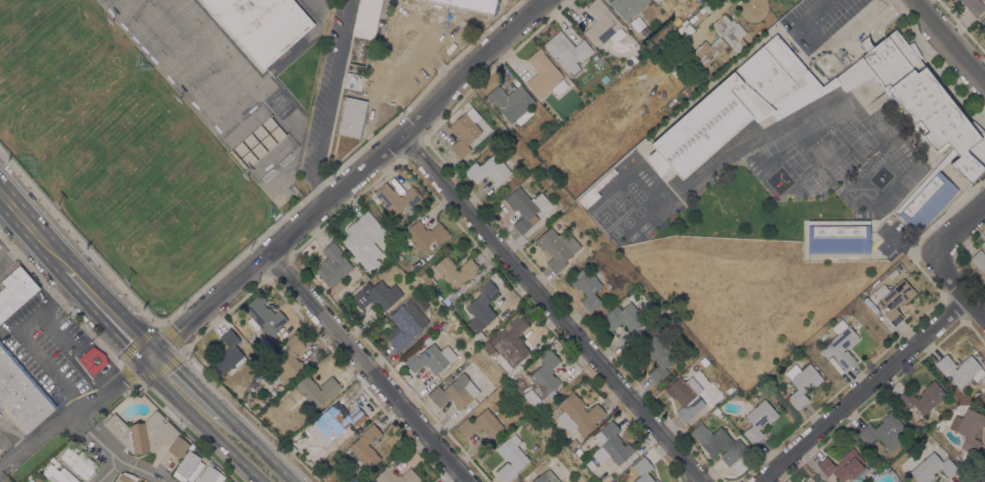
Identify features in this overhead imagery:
building: (656, 1)
building: (974, 6)
building: (628, 7)
building: (701, 12)
building: (366, 18)
building: (983, 21)
building: (601, 23)
building: (263, 25)
building: (408, 27)
building: (683, 30)
building: (646, 31)
building: (730, 34)
road: (949, 41)
road: (832, 45)
building: (657, 49)
building: (567, 51)
building: (704, 54)
building: (595, 57)
building: (625, 65)
building: (391, 66)
building: (544, 75)
road: (329, 101)
building: (512, 103)
building: (352, 117)
building: (703, 128)
building: (503, 129)
building: (465, 131)
building: (489, 170)
building: (551, 178)
road: (347, 180)
building: (399, 183)
building: (395, 197)
building: (524, 208)
road: (5, 209)
building: (557, 213)
road: (955, 224)
road: (37, 232)
building: (423, 234)
building: (838, 236)
building: (363, 237)
building: (983, 243)
road: (18, 247)
building: (557, 247)
building: (979, 260)
building: (334, 267)
building: (455, 271)
road: (948, 273)
building: (586, 287)
building: (15, 291)
building: (376, 295)
building: (893, 301)
road: (550, 306)
road: (976, 306)
building: (482, 307)
road: (111, 316)
building: (264, 316)
building: (623, 318)
building: (405, 325)
road: (25, 337)
building: (511, 340)
building: (841, 344)
building: (228, 353)
building: (657, 356)
traffic signals: (149, 358)
building: (430, 358)
building: (289, 359)
building: (92, 360)
building: (692, 365)
road: (367, 367)
building: (960, 369)
road: (189, 382)
building: (543, 382)
building: (802, 382)
road: (112, 386)
road: (863, 387)
building: (317, 390)
building: (21, 393)
building: (454, 393)
building: (682, 397)
building: (923, 397)
building: (718, 413)
building: (578, 414)
building: (265, 415)
building: (759, 420)
road: (202, 422)
building: (335, 422)
building: (919, 422)
building: (481, 425)
building: (968, 428)
building: (884, 431)
building: (142, 432)
road: (35, 436)
building: (573, 443)
building: (611, 444)
building: (721, 445)
building: (178, 446)
road: (260, 447)
building: (534, 447)
building: (365, 449)
building: (578, 450)
road: (112, 453)
building: (510, 457)
building: (79, 462)
building: (591, 465)
building: (842, 465)
building: (188, 467)
building: (932, 467)
building: (643, 470)
building: (551, 471)
road: (110, 472)
building: (59, 473)
building: (209, 475)
building: (396, 476)
building: (126, 477)
building: (606, 479)
building: (41, 480)
building: (31, 481)
building: (520, 481)
building: (859, 481)
building: (897, 481)

